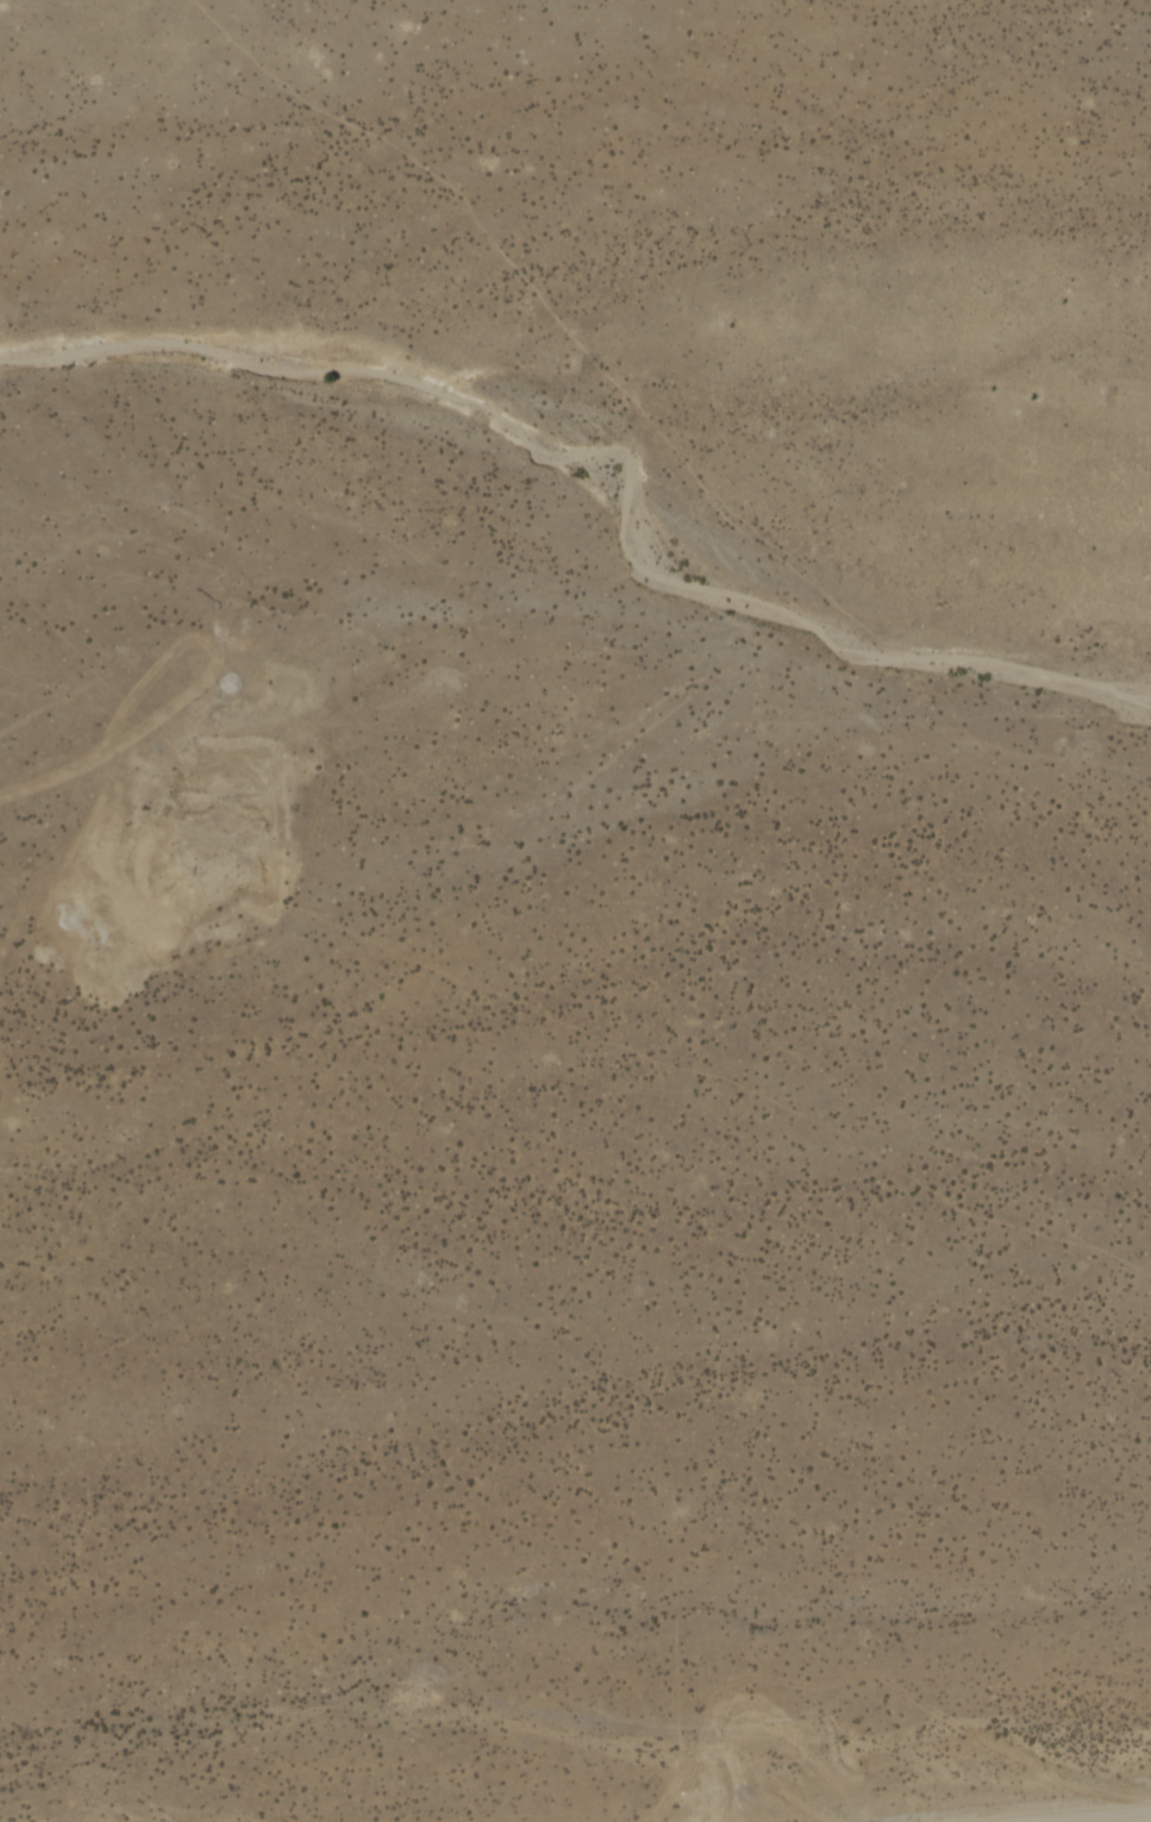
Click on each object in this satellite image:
road: (1126, 1818)

